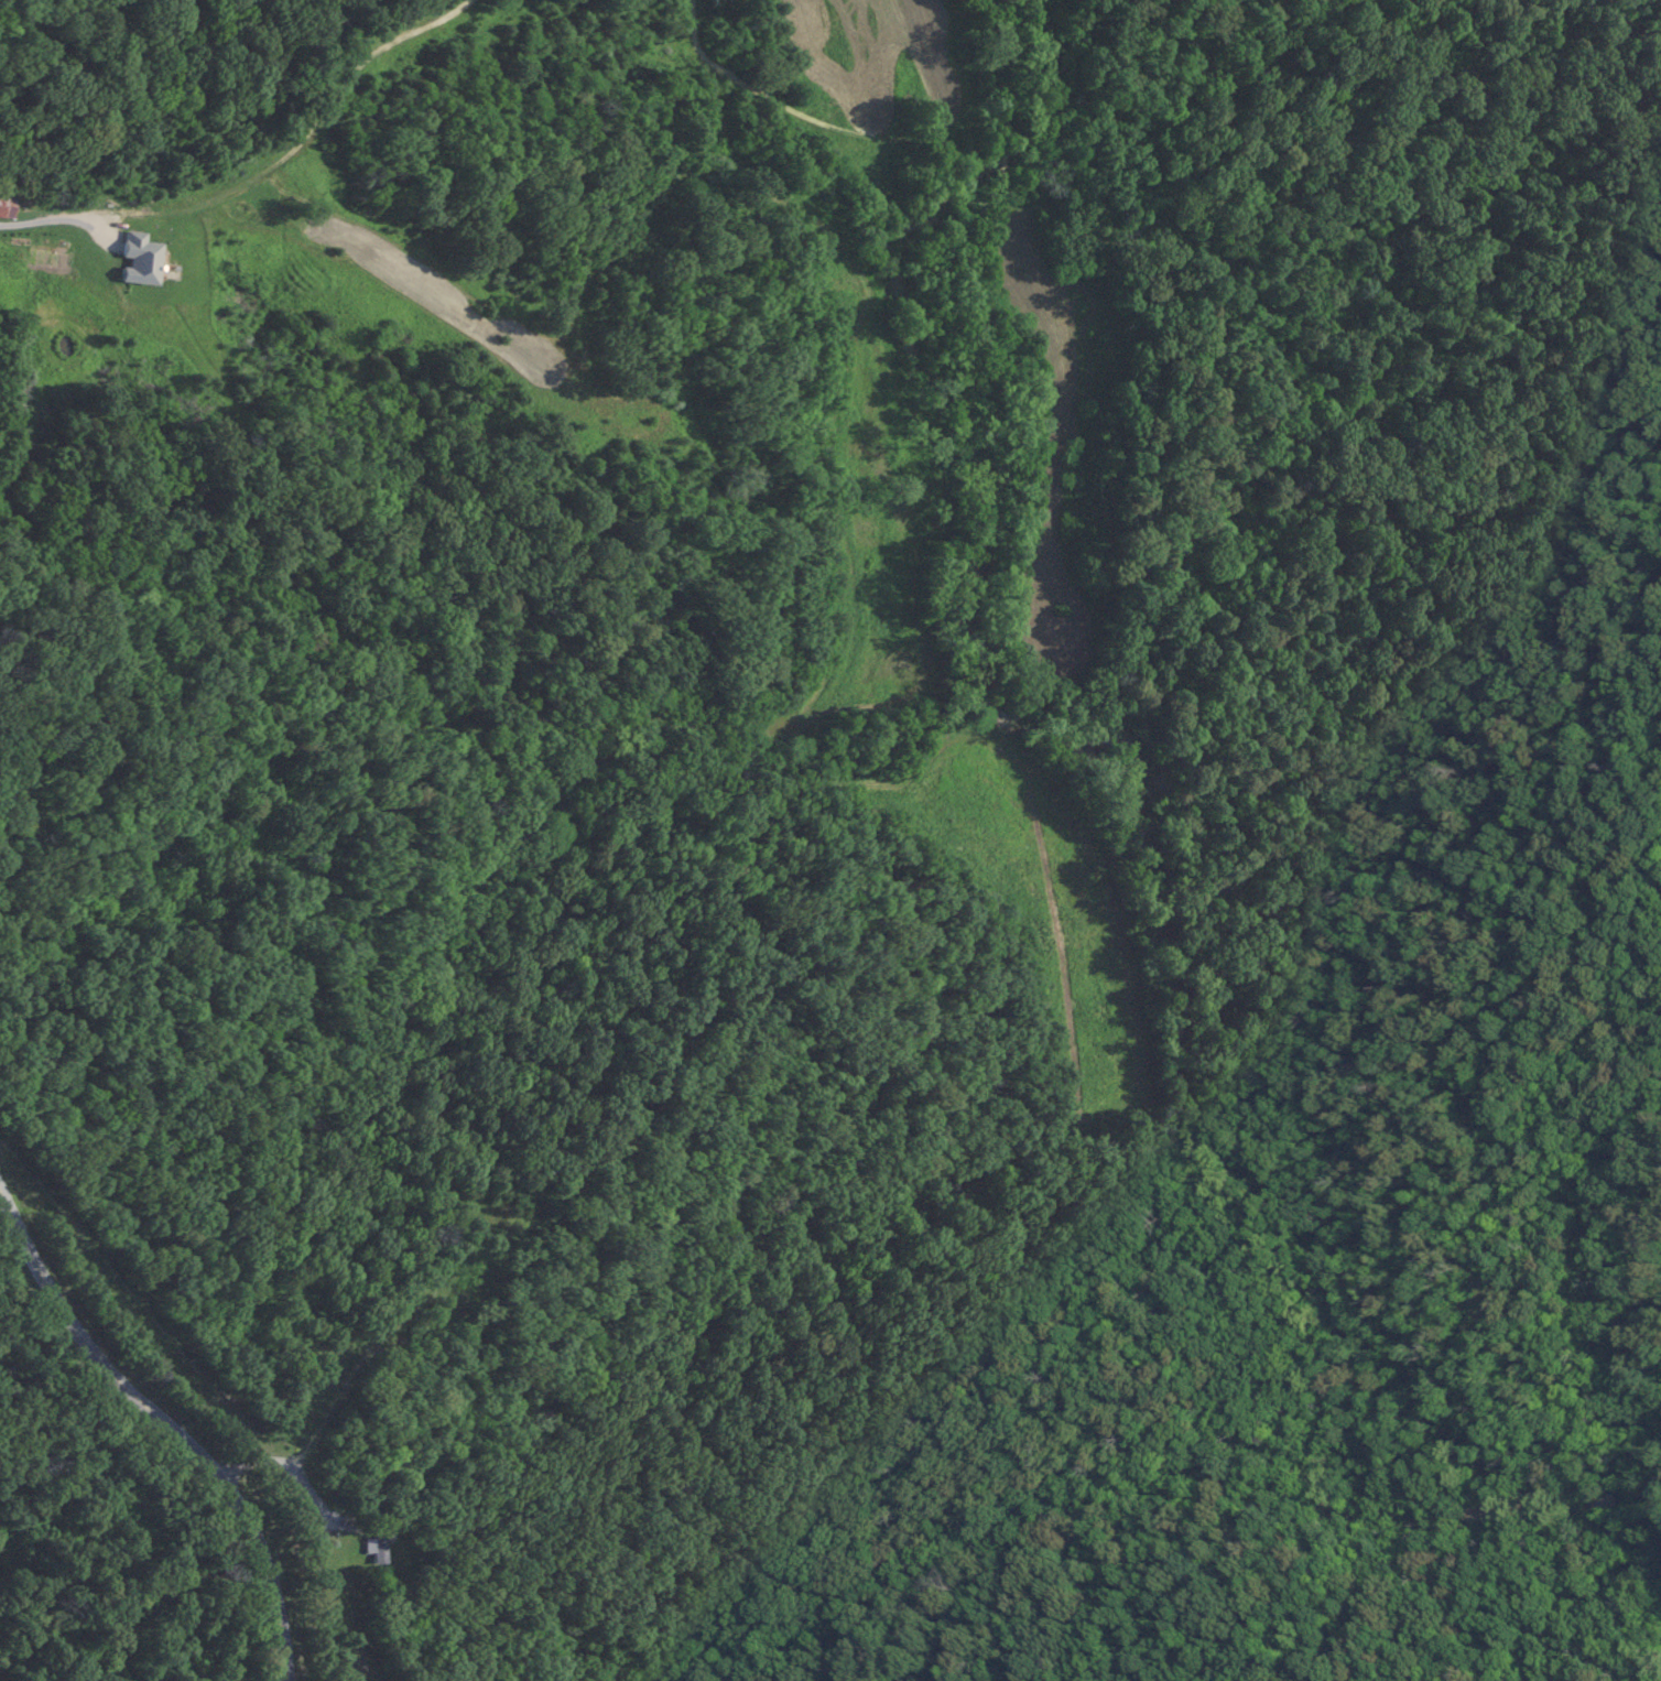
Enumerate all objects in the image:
building: (7, 205)
road: (54, 216)
building: (479, 1262)
road: (336, 1395)
road: (160, 1421)
building: (377, 1534)

